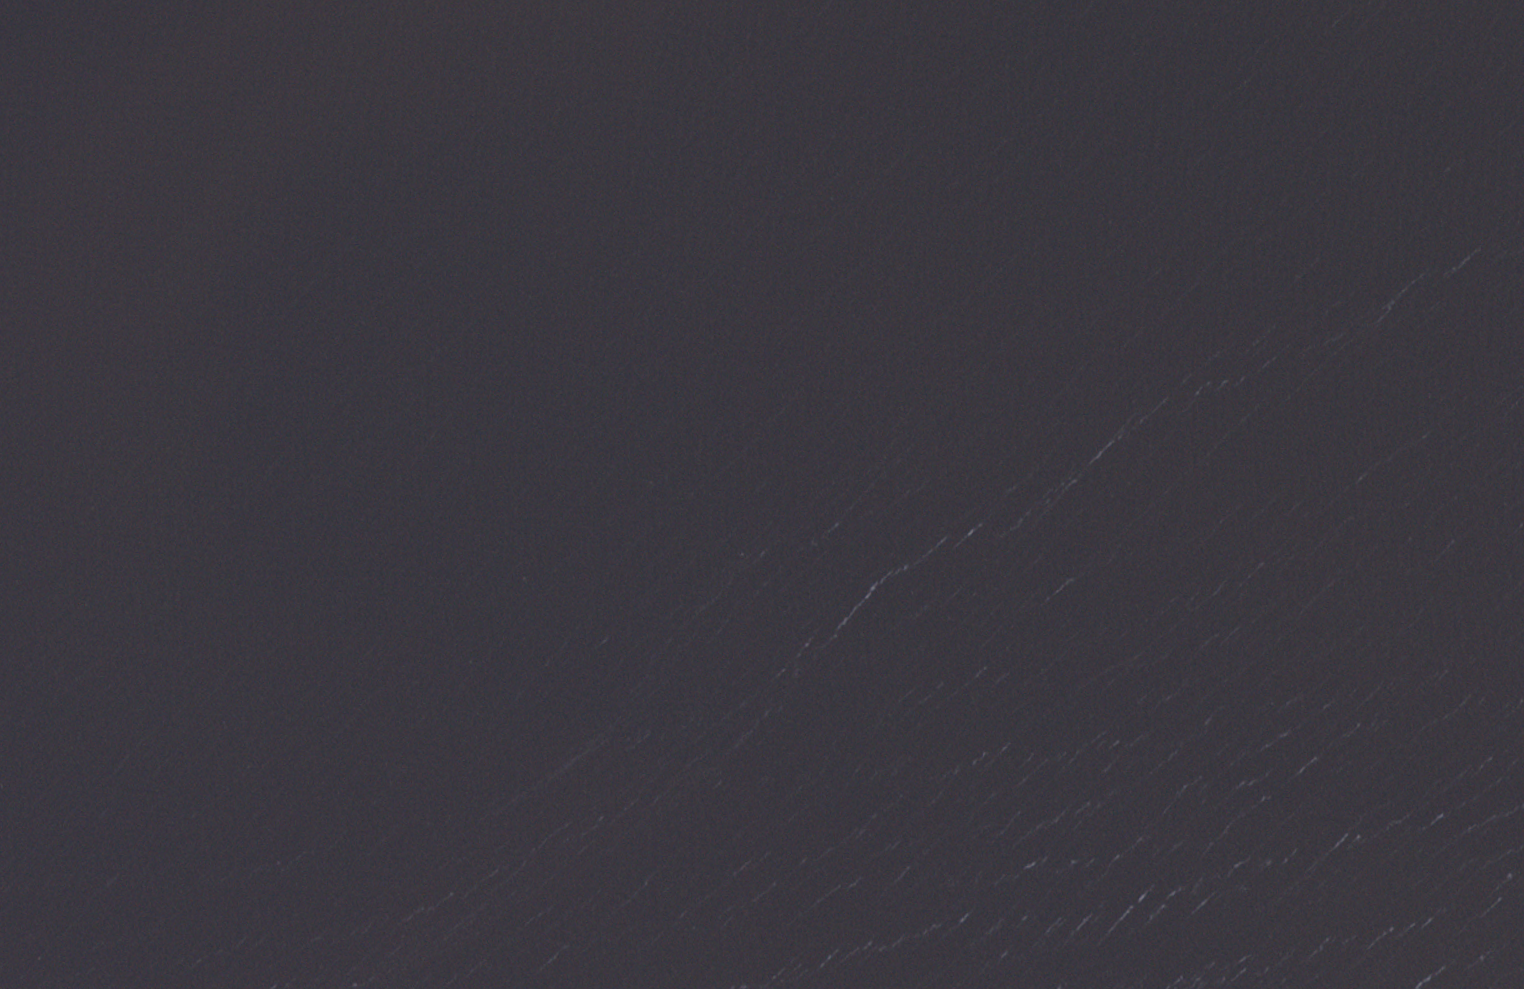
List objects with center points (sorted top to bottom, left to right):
river: (1395, 494)

